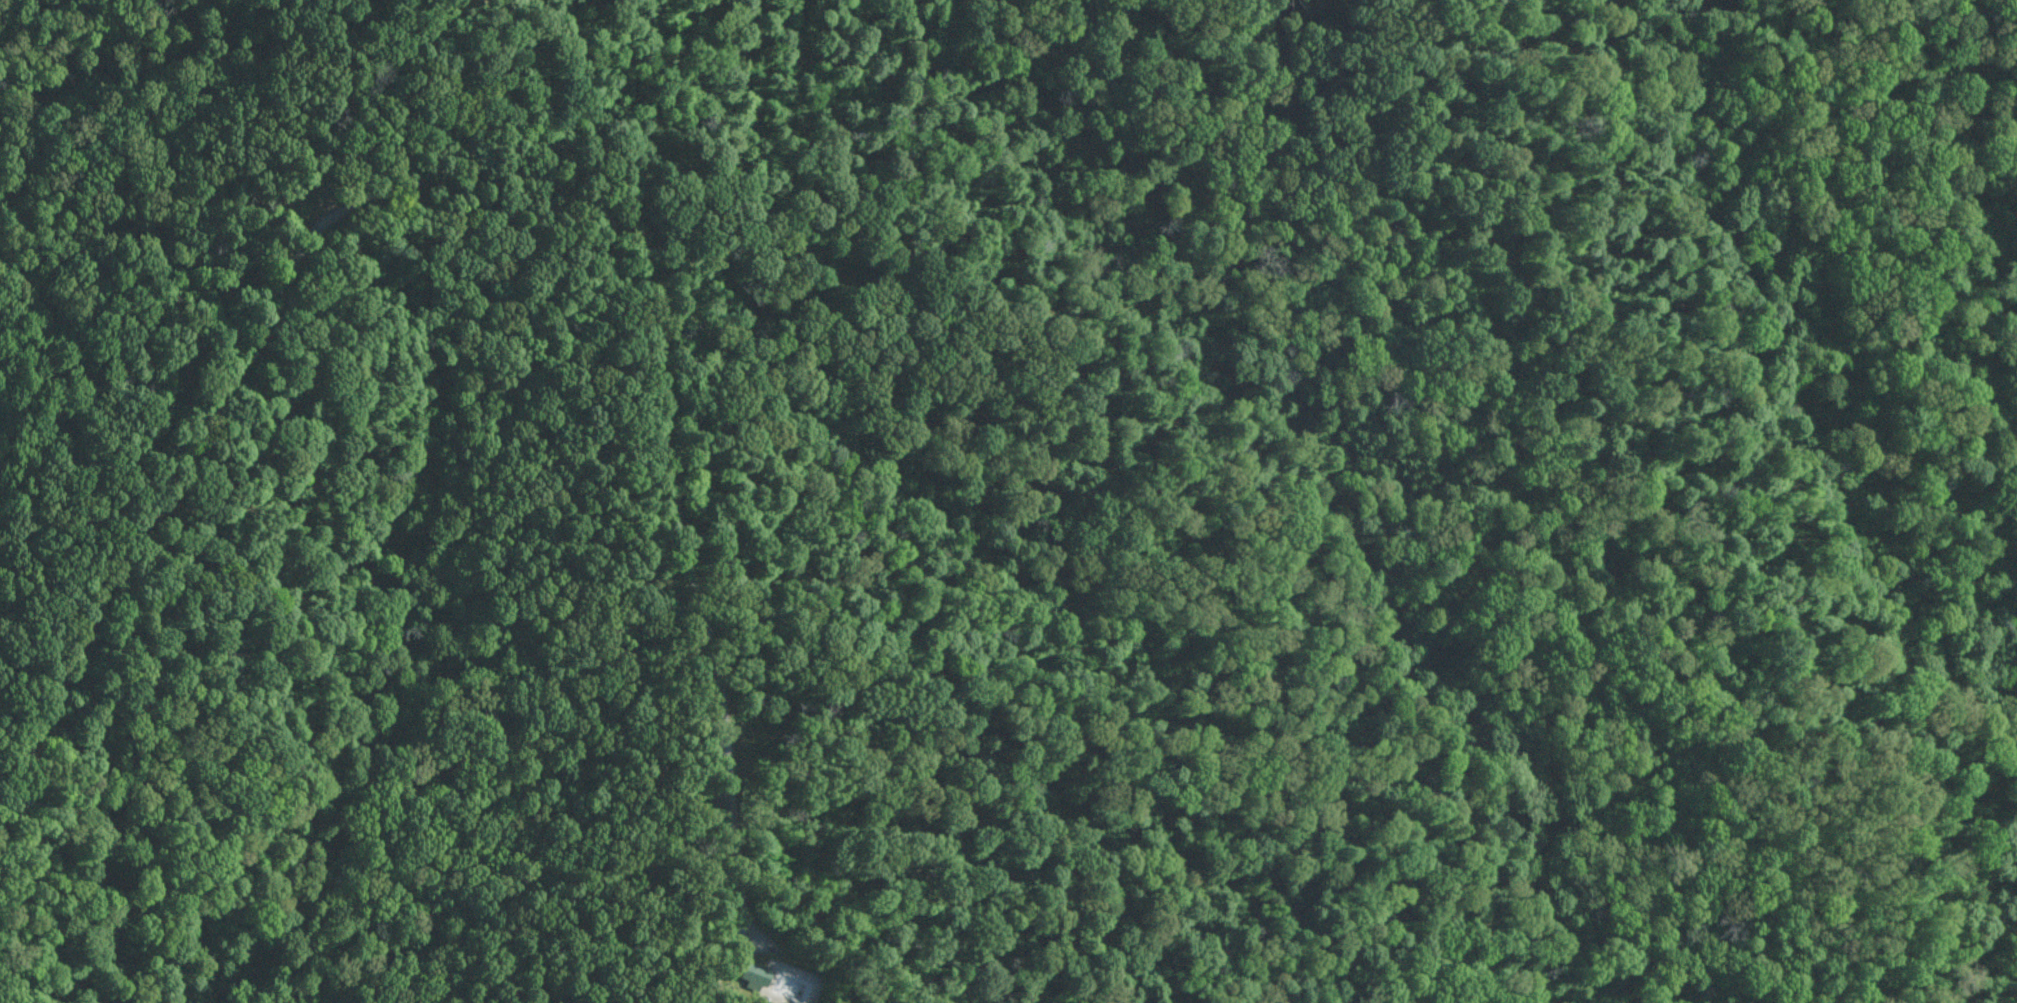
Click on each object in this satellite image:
road: (535, 177)

